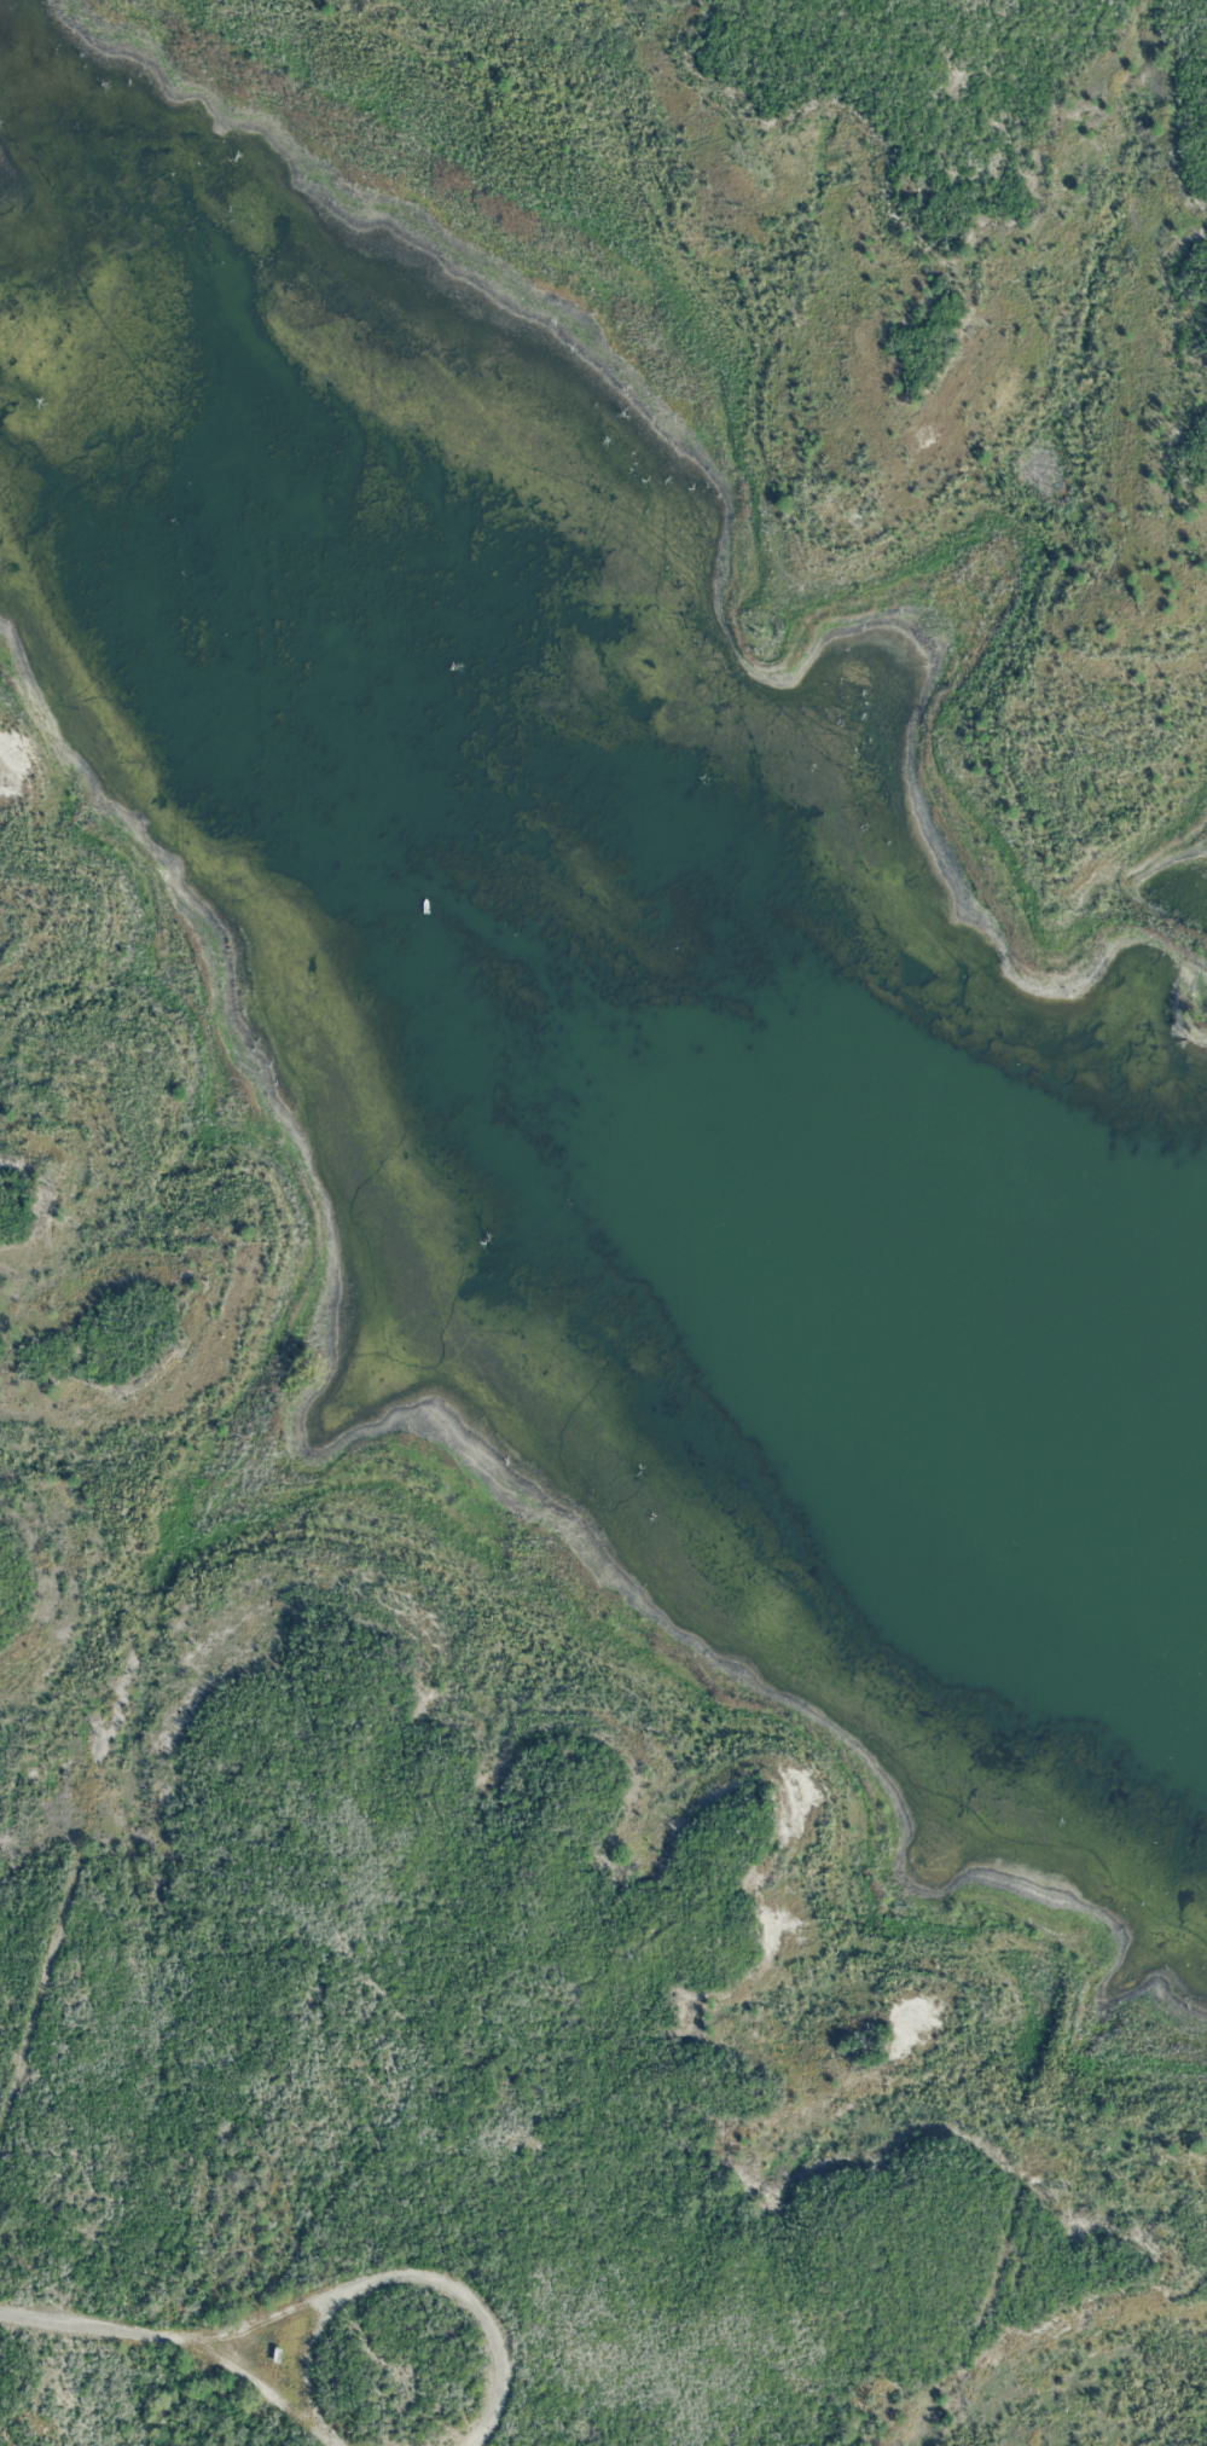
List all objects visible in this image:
road: (410, 2273)
road: (97, 2325)
road: (263, 2392)

